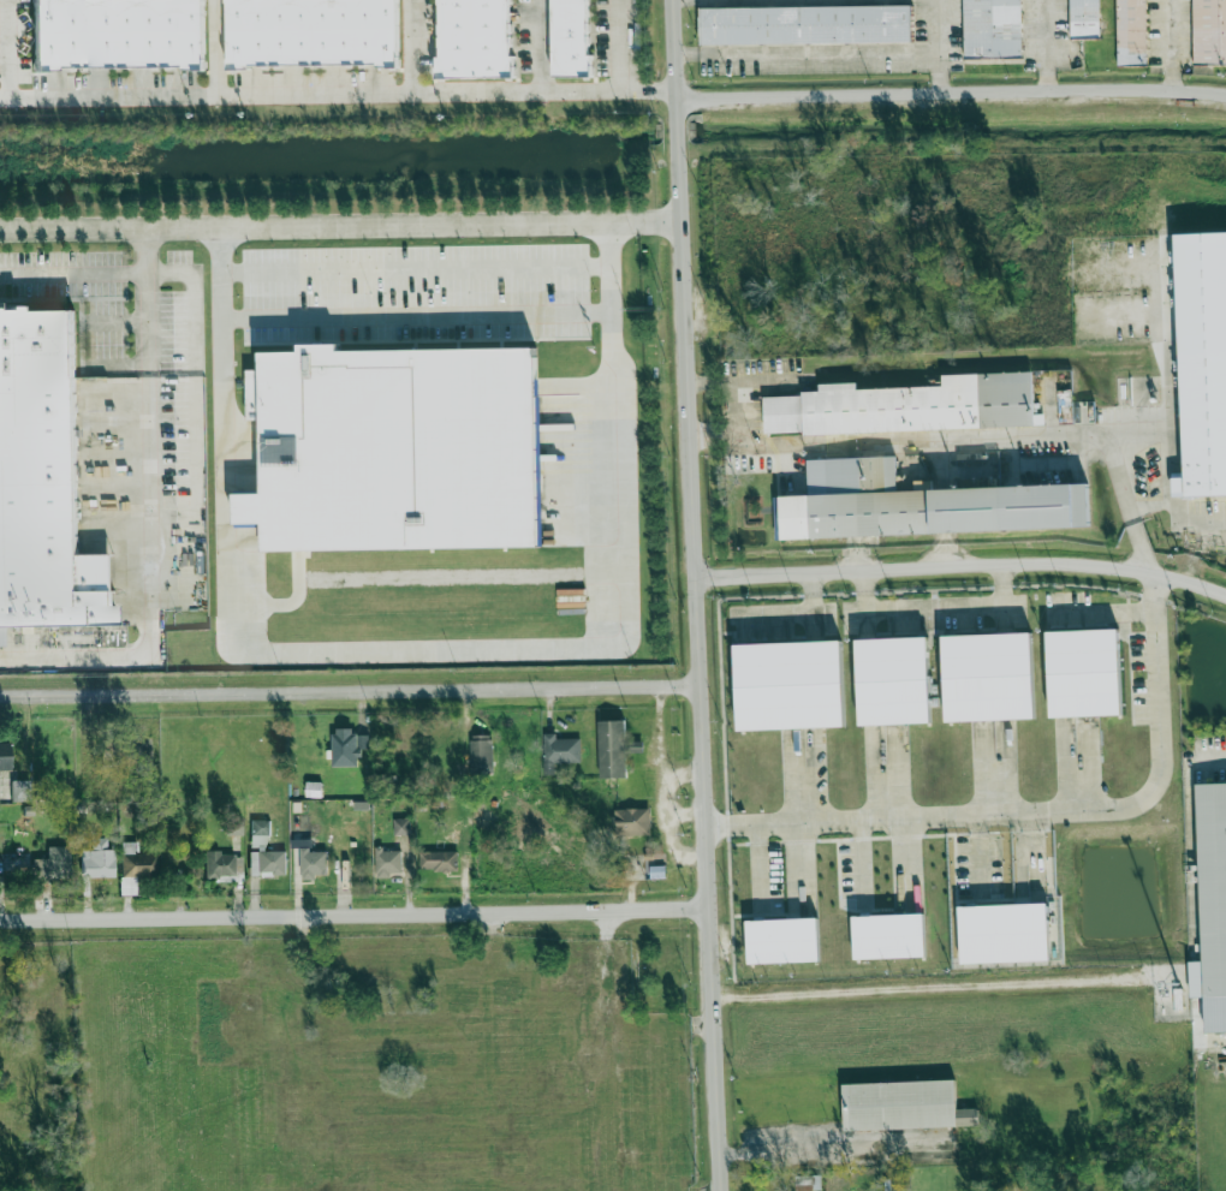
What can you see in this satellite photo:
building: (1085, 18)
building: (805, 23)
building: (993, 28)
building: (1210, 30)
building: (1133, 31)
building: (118, 34)
building: (315, 34)
building: (572, 36)
building: (476, 37)
road: (619, 44)
road: (1183, 44)
road: (409, 46)
road: (540, 46)
road: (8, 47)
road: (216, 47)
road: (938, 47)
road: (805, 53)
road: (1054, 56)
road: (337, 93)
road: (950, 93)
road: (659, 220)
road: (588, 221)
road: (267, 225)
road: (415, 270)
road: (73, 273)
road: (147, 300)
road: (416, 315)
road: (115, 322)
road: (115, 364)
road: (194, 375)
building: (906, 406)
building: (1204, 422)
road: (968, 439)
building: (394, 446)
building: (42, 482)
building: (942, 506)
road: (964, 567)
road: (1002, 583)
road: (862, 589)
road: (149, 590)
road: (813, 592)
road: (698, 595)
road: (421, 651)
building: (1084, 669)
building: (988, 673)
building: (893, 677)
building: (790, 681)
road: (350, 691)
building: (345, 745)
building: (613, 748)
building: (559, 750)
building: (481, 752)
road: (1209, 755)
building: (4, 756)
building: (314, 788)
building: (20, 790)
road: (1042, 810)
building: (632, 822)
building: (298, 824)
building: (234, 826)
building: (399, 827)
building: (788, 836)
building: (266, 851)
building: (438, 861)
building: (314, 862)
building: (388, 862)
building: (99, 865)
building: (221, 865)
building: (654, 865)
building: (53, 867)
building: (136, 870)
building: (1212, 886)
road: (356, 916)
building: (1004, 931)
building: (888, 935)
building: (782, 939)
road: (403, 964)
road: (938, 987)
road: (1186, 1014)
road: (1214, 1029)
road: (609, 1052)
building: (486, 1085)
building: (904, 1104)
building: (300, 1108)
road: (834, 1153)
building: (808, 1183)

